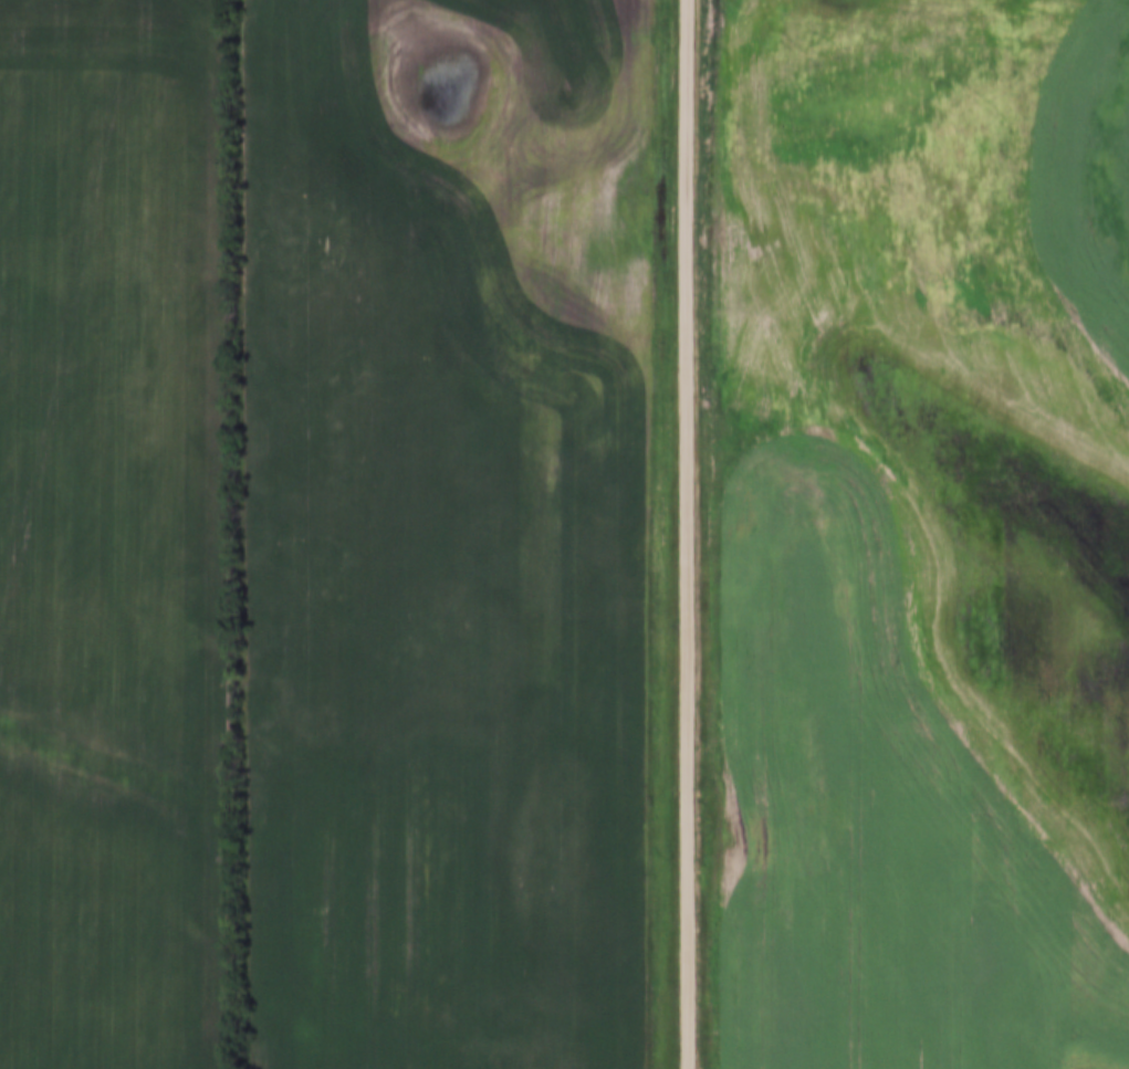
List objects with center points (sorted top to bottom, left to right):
road: (689, 534)

